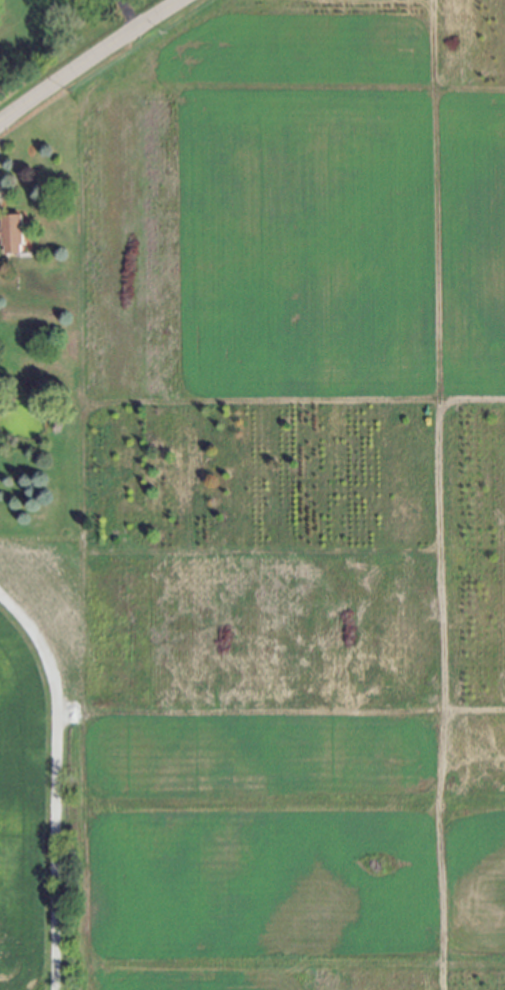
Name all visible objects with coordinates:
road: (92, 61)
building: (8, 224)
road: (54, 783)

